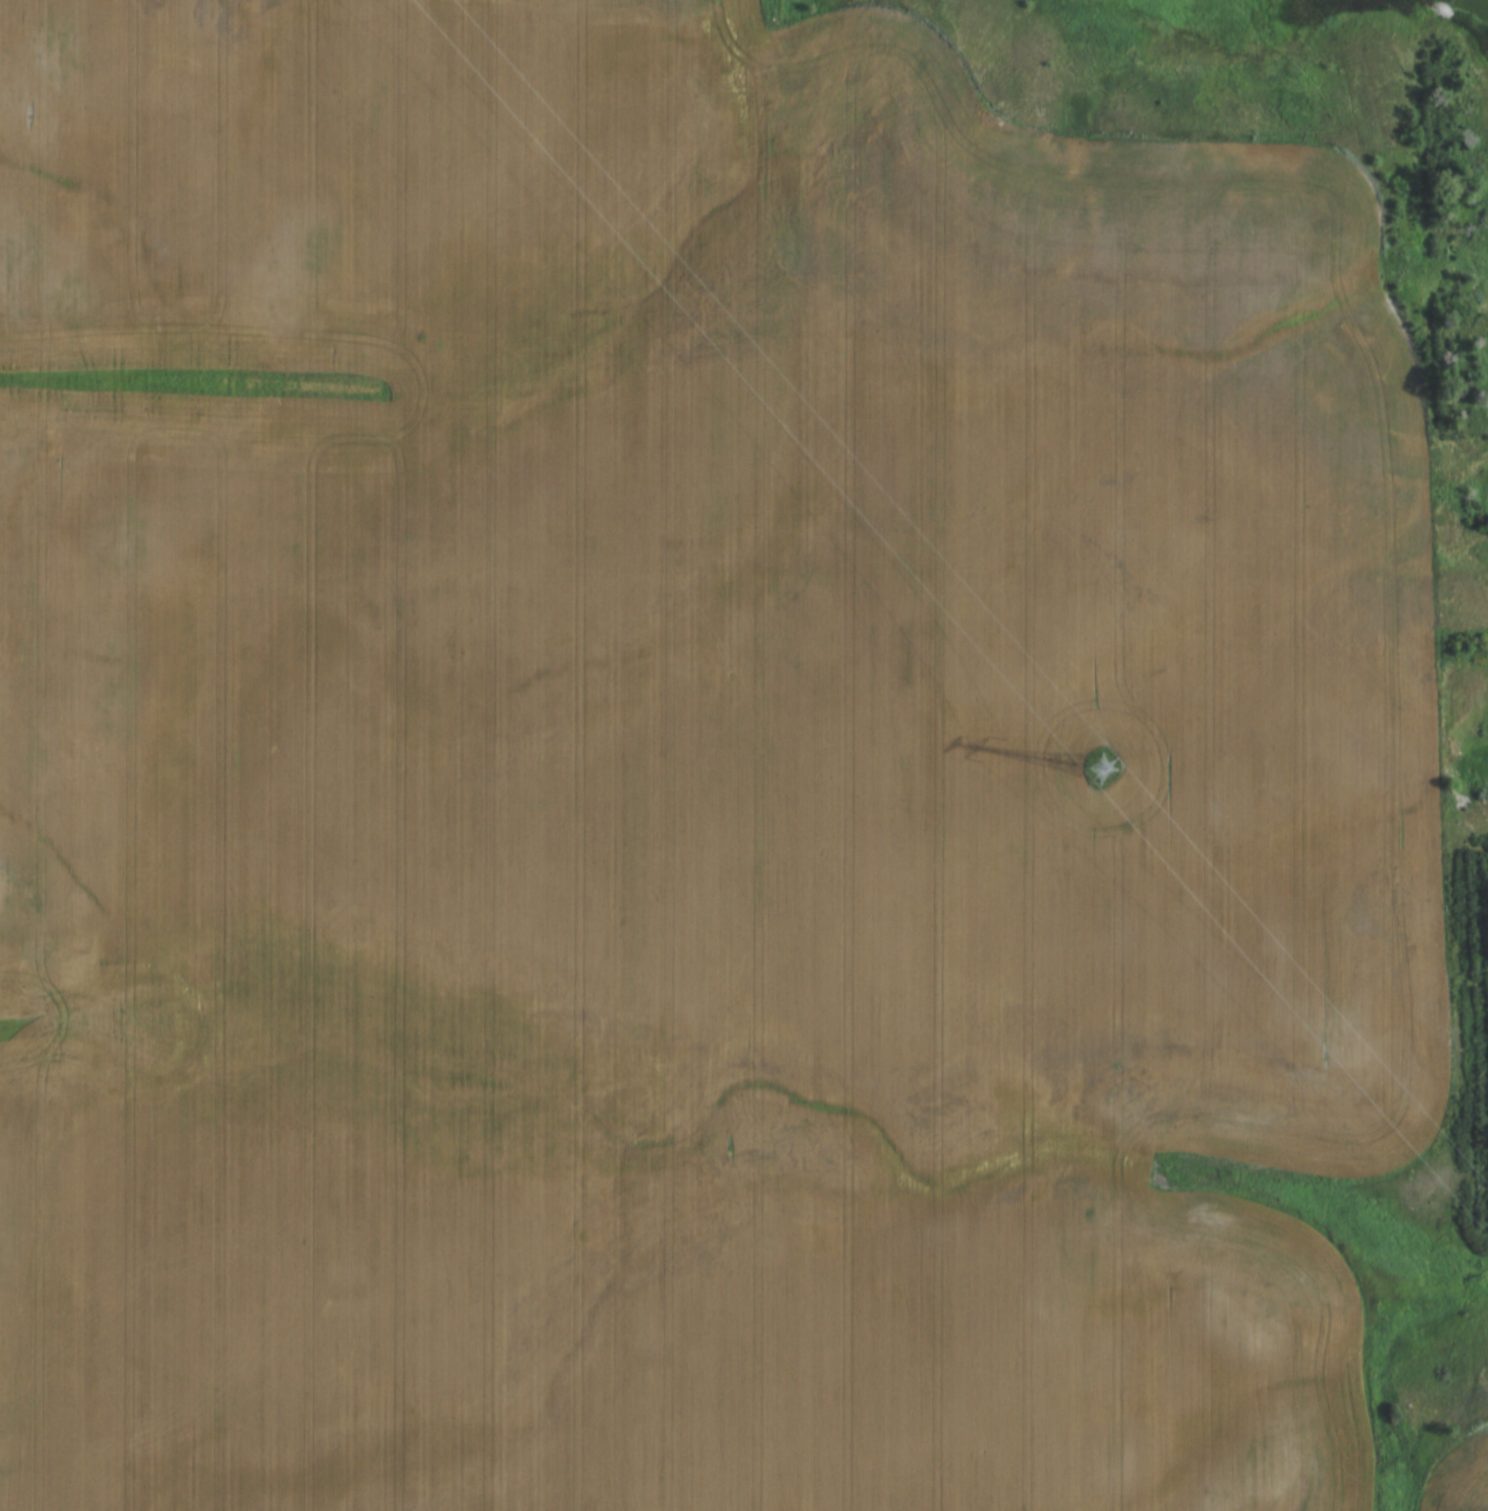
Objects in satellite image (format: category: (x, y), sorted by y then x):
power tower: (1111, 772)

